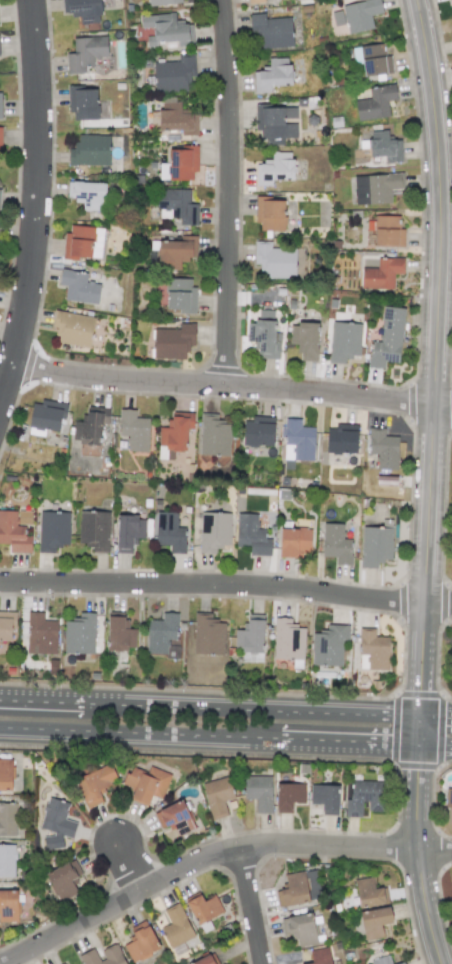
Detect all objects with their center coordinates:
building: (450, 0)
building: (255, 1)
building: (163, 2)
building: (83, 10)
building: (360, 14)
building: (167, 30)
building: (271, 30)
building: (85, 53)
building: (372, 59)
building: (173, 74)
building: (273, 75)
building: (83, 103)
building: (375, 103)
building: (0, 104)
building: (177, 119)
building: (275, 123)
building: (0, 139)
building: (383, 147)
building: (90, 151)
building: (179, 164)
building: (274, 169)
building: (376, 188)
building: (0, 192)
road: (222, 193)
building: (87, 195)
building: (177, 206)
building: (270, 214)
road: (40, 215)
building: (385, 231)
building: (78, 242)
building: (175, 252)
building: (275, 260)
building: (382, 273)
building: (79, 287)
building: (180, 295)
building: (73, 328)
building: (263, 335)
building: (387, 339)
building: (305, 340)
building: (173, 341)
building: (344, 341)
road: (434, 357)
road: (233, 386)
building: (46, 417)
building: (88, 429)
building: (134, 430)
building: (259, 432)
building: (173, 435)
building: (214, 436)
building: (342, 439)
building: (297, 440)
building: (383, 448)
building: (53, 530)
building: (94, 530)
building: (15, 531)
building: (214, 531)
building: (129, 532)
building: (170, 532)
building: (252, 535)
building: (295, 542)
building: (336, 543)
building: (375, 546)
road: (226, 586)
building: (6, 626)
building: (42, 633)
building: (80, 634)
building: (120, 634)
building: (162, 635)
building: (208, 635)
building: (250, 640)
building: (287, 640)
building: (329, 645)
building: (374, 649)
road: (225, 709)
road: (417, 730)
road: (225, 736)
building: (5, 774)
building: (146, 783)
building: (95, 784)
building: (259, 792)
building: (217, 796)
building: (289, 797)
building: (365, 797)
building: (325, 798)
building: (448, 799)
building: (7, 819)
building: (56, 823)
road: (218, 854)
road: (417, 855)
building: (7, 861)
road: (132, 867)
building: (63, 880)
building: (299, 889)
building: (370, 893)
building: (8, 906)
road: (250, 907)
building: (204, 908)
building: (374, 922)
building: (176, 926)
building: (299, 928)
building: (141, 942)
building: (111, 952)
building: (320, 956)
building: (204, 960)
building: (381, 960)
building: (402, 963)

